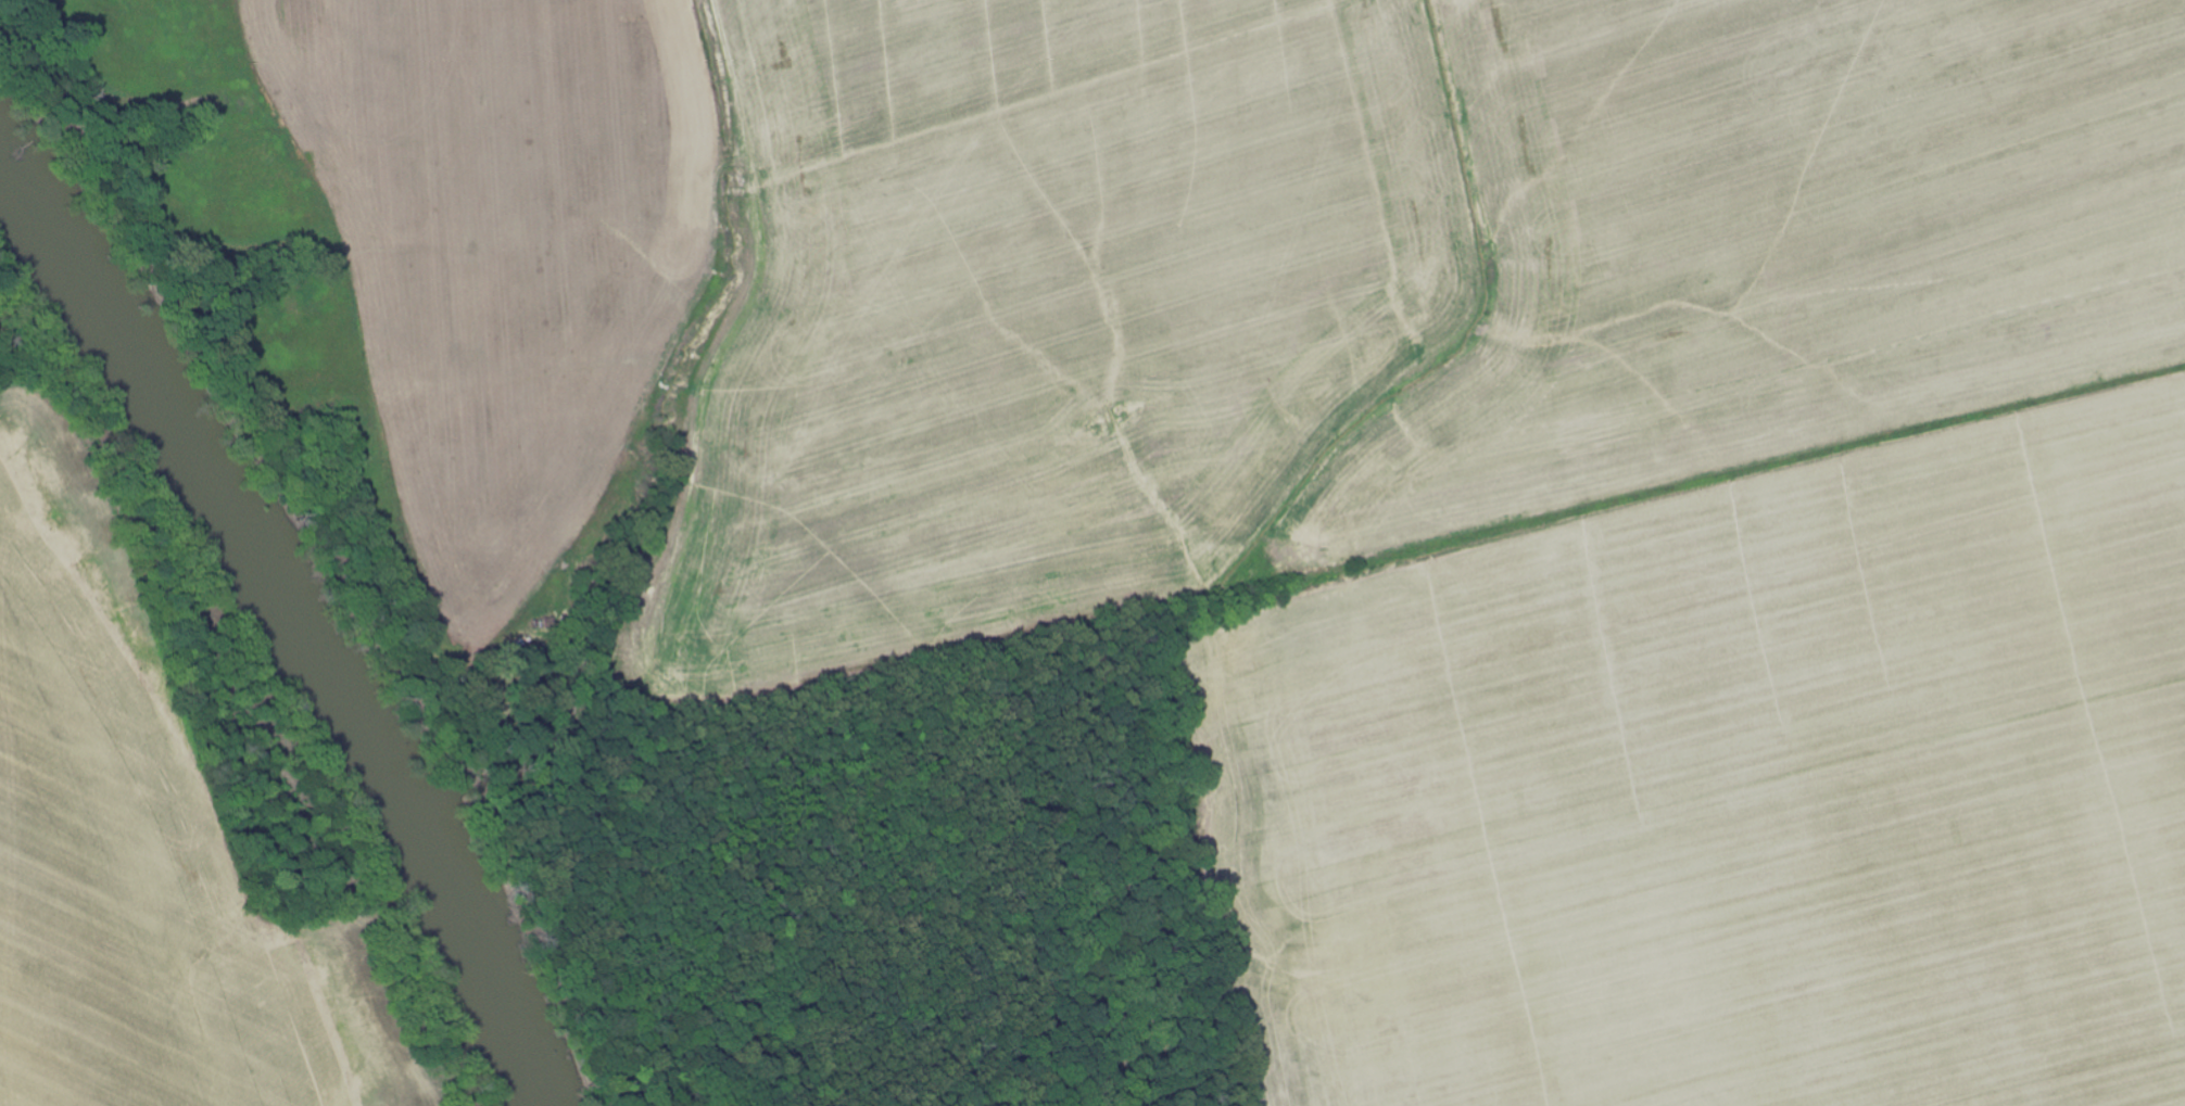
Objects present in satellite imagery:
river: (290, 634)

